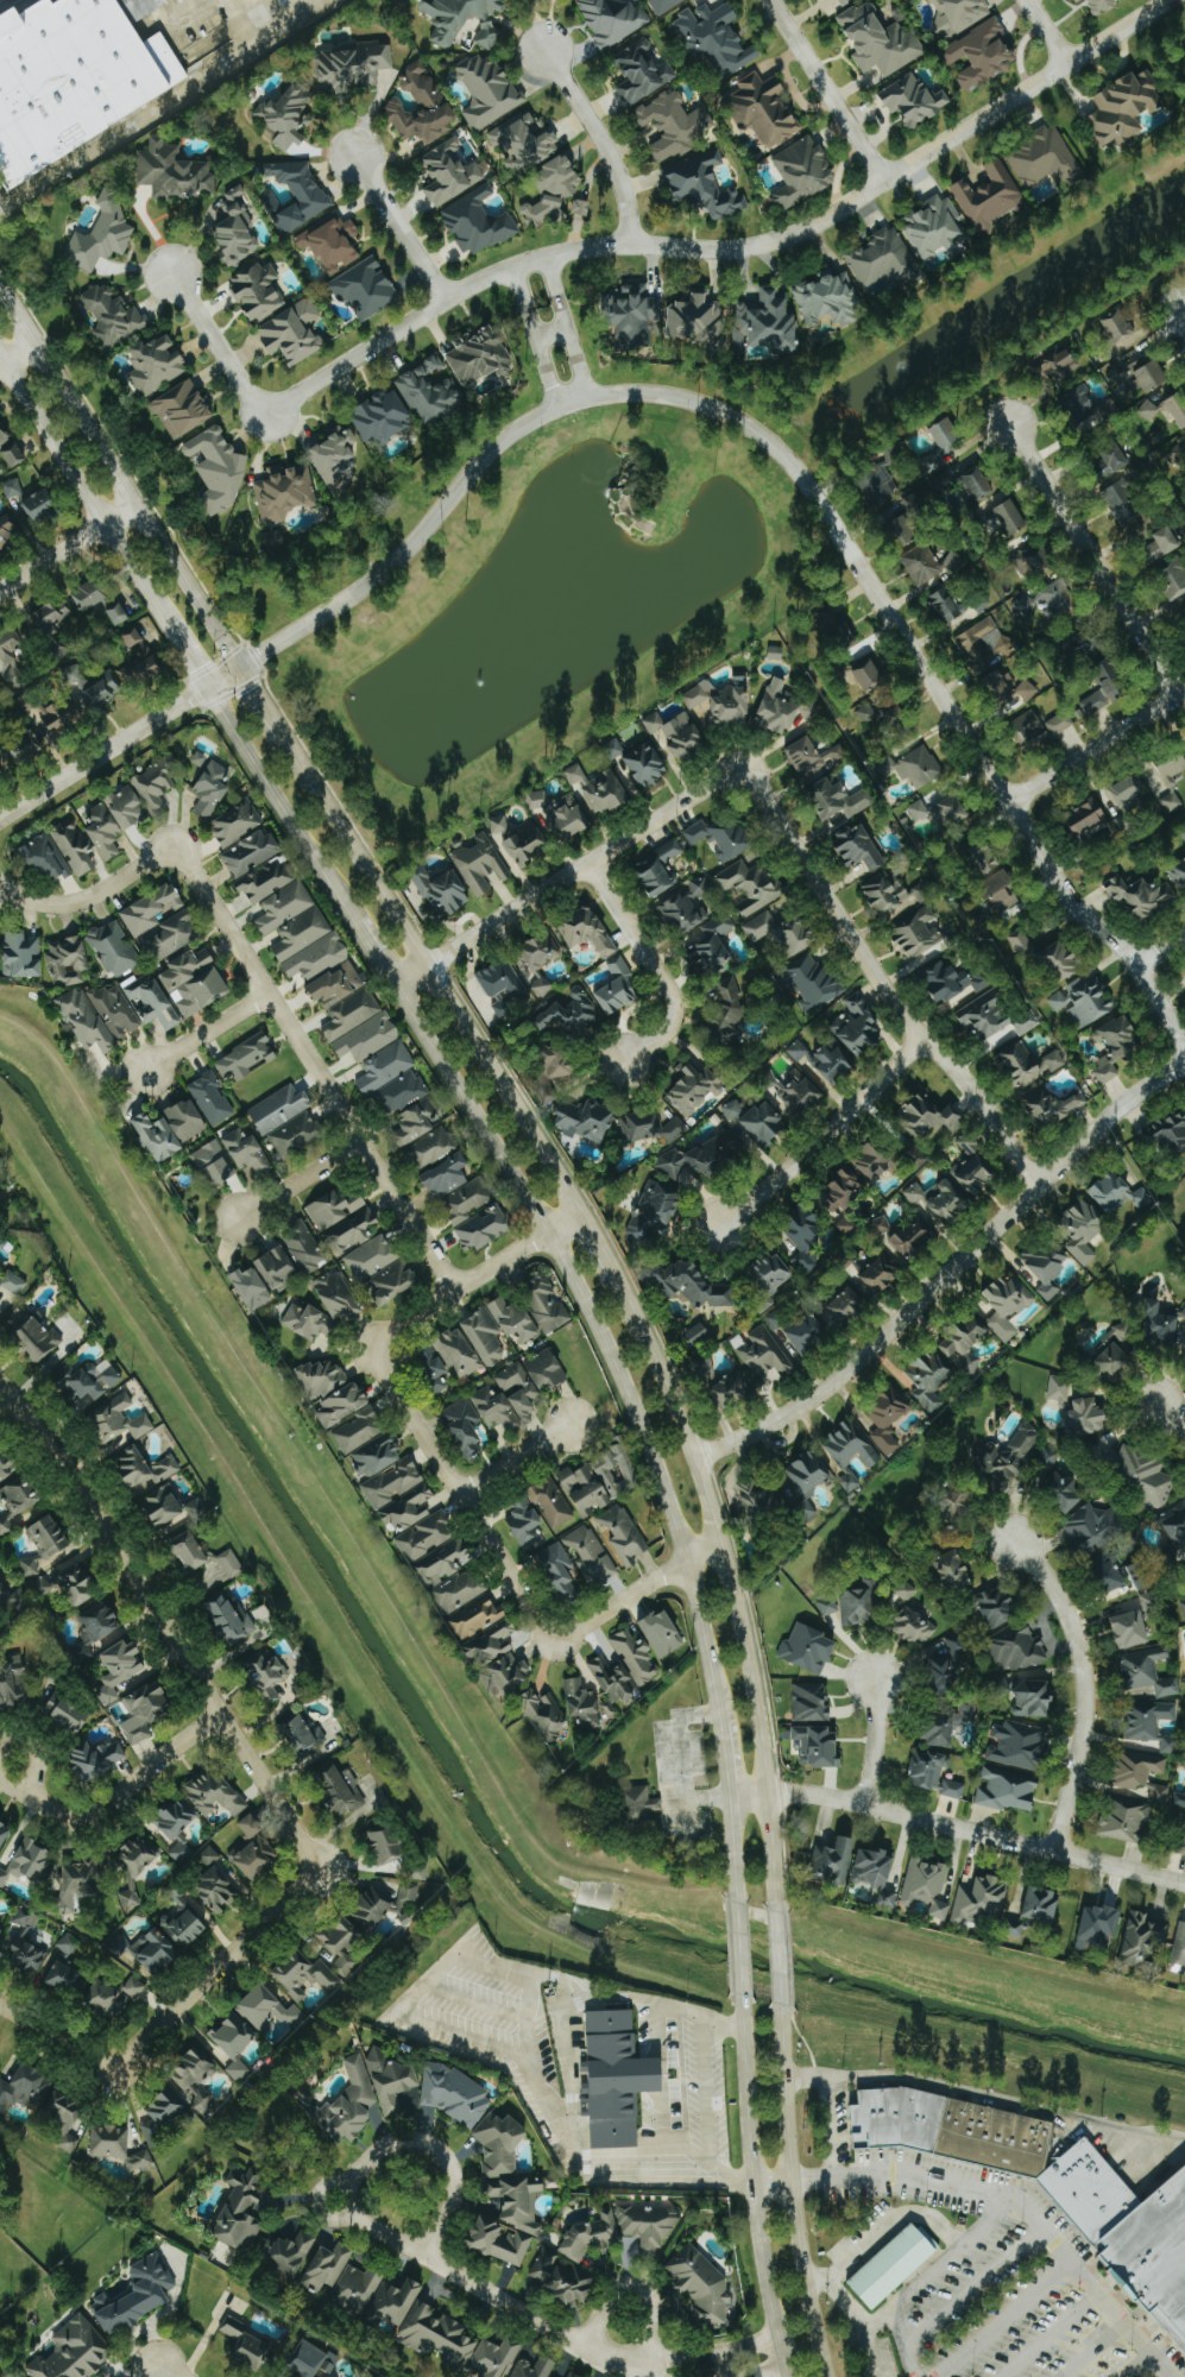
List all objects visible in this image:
building: (817, 0)
building: (1078, 0)
building: (844, 1)
building: (663, 5)
building: (1105, 5)
building: (959, 13)
building: (611, 19)
building: (464, 20)
road: (1053, 31)
building: (716, 38)
building: (881, 40)
building: (983, 53)
building: (106, 61)
building: (354, 67)
building: (641, 71)
building: (487, 90)
road: (828, 90)
building: (915, 100)
road: (162, 105)
building: (422, 106)
building: (1127, 107)
building: (763, 109)
building: (288, 116)
building: (674, 125)
building: (540, 128)
road: (597, 139)
building: (524, 141)
building: (1046, 158)
building: (171, 170)
building: (449, 172)
building: (803, 172)
building: (704, 185)
building: (554, 190)
building: (300, 194)
building: (991, 196)
building: (582, 207)
building: (478, 222)
building: (937, 226)
road: (403, 227)
building: (235, 229)
building: (102, 234)
building: (333, 244)
road: (730, 248)
building: (882, 261)
building: (366, 288)
building: (258, 291)
road: (556, 291)
building: (830, 300)
road: (523, 301)
building: (631, 314)
building: (113, 316)
road: (1183, 316)
building: (696, 319)
building: (767, 323)
building: (1120, 326)
building: (294, 333)
road: (550, 333)
road: (221, 345)
road: (18, 351)
building: (480, 357)
road: (576, 362)
building: (156, 365)
building: (1060, 365)
road: (546, 371)
building: (1153, 376)
building: (431, 392)
building: (1178, 408)
building: (182, 410)
building: (1083, 410)
building: (1148, 410)
building: (384, 417)
road: (505, 433)
building: (947, 434)
building: (8, 444)
building: (1177, 453)
building: (335, 455)
building: (1112, 459)
building: (218, 469)
road: (119, 474)
building: (878, 481)
building: (978, 483)
building: (12, 487)
road: (80, 488)
building: (285, 492)
building: (1123, 502)
building: (40, 505)
building: (1011, 517)
building: (8, 531)
building: (902, 532)
road: (68, 543)
building: (1165, 543)
road: (1092, 557)
building: (1035, 560)
building: (922, 567)
building: (1174, 576)
building: (89, 595)
building: (1059, 601)
building: (947, 605)
building: (118, 613)
building: (52, 617)
building: (840, 636)
building: (133, 637)
building: (984, 643)
building: (1085, 645)
road: (184, 652)
building: (12, 657)
traffic signals: (238, 666)
building: (141, 668)
building: (869, 675)
building: (1107, 686)
building: (94, 687)
traffic signals: (206, 687)
building: (1008, 687)
building: (700, 694)
road: (263, 704)
building: (733, 704)
building: (786, 708)
building: (63, 714)
building: (884, 717)
building: (1060, 723)
building: (1033, 729)
building: (676, 734)
road: (119, 742)
road: (1095, 745)
building: (614, 749)
building: (813, 755)
building: (200, 758)
building: (647, 765)
building: (920, 767)
building: (1172, 770)
road: (991, 778)
building: (156, 786)
building: (212, 789)
building: (600, 789)
building: (1128, 794)
building: (537, 800)
building: (840, 800)
building: (1172, 802)
road: (282, 806)
building: (128, 808)
building: (953, 809)
building: (919, 811)
building: (569, 818)
building: (1088, 818)
building: (238, 824)
building: (502, 830)
building: (1183, 831)
building: (106, 832)
building: (723, 838)
building: (529, 846)
building: (861, 847)
building: (76, 851)
building: (251, 853)
building: (48, 859)
building: (481, 865)
building: (658, 868)
road: (568, 875)
building: (1179, 876)
building: (994, 877)
building: (267, 881)
building: (751, 885)
building: (445, 894)
building: (895, 894)
building: (1142, 897)
building: (285, 907)
building: (687, 908)
building: (152, 909)
building: (588, 932)
building: (918, 932)
building: (302, 933)
building: (782, 933)
building: (171, 935)
building: (1021, 941)
building: (712, 947)
building: (115, 948)
road: (1161, 950)
building: (24, 956)
road: (376, 956)
building: (317, 958)
building: (69, 961)
building: (541, 961)
building: (1061, 963)
road: (655, 965)
road: (435, 975)
building: (503, 981)
building: (952, 982)
building: (196, 983)
road: (261, 983)
building: (817, 983)
road: (880, 983)
building: (338, 985)
building: (619, 989)
building: (152, 1001)
building: (1083, 1002)
building: (502, 1008)
building: (116, 1010)
building: (571, 1013)
building: (352, 1014)
building: (729, 1014)
building: (995, 1016)
building: (88, 1020)
building: (859, 1027)
road: (207, 1029)
building: (370, 1038)
building: (1120, 1039)
building: (798, 1049)
building: (246, 1059)
building: (1028, 1064)
building: (833, 1065)
building: (386, 1067)
building: (1105, 1071)
building: (694, 1087)
building: (402, 1092)
building: (803, 1096)
building: (212, 1099)
building: (1051, 1106)
building: (279, 1109)
building: (733, 1110)
building: (928, 1117)
building: (187, 1120)
building: (587, 1121)
building: (416, 1123)
building: (765, 1124)
building: (649, 1127)
road: (824, 1133)
building: (296, 1135)
building: (1168, 1136)
building: (159, 1139)
building: (970, 1145)
building: (430, 1149)
building: (247, 1152)
building: (701, 1160)
building: (214, 1164)
building: (876, 1164)
building: (975, 1175)
building: (448, 1177)
road: (301, 1179)
building: (843, 1192)
building: (1118, 1193)
building: (468, 1200)
building: (941, 1200)
building: (653, 1217)
building: (846, 1225)
building: (881, 1225)
building: (485, 1228)
building: (1084, 1230)
building: (353, 1234)
building: (806, 1238)
building: (915, 1240)
road: (599, 1243)
building: (304, 1248)
building: (1046, 1267)
building: (279, 1269)
building: (774, 1272)
road: (947, 1272)
building: (882, 1275)
road: (473, 1276)
building: (14, 1282)
building: (395, 1282)
building: (694, 1286)
building: (252, 1288)
building: (338, 1297)
building: (546, 1303)
building: (1008, 1306)
building: (845, 1309)
building: (1184, 1316)
building: (515, 1320)
building: (309, 1323)
building: (1160, 1326)
building: (698, 1333)
building: (808, 1336)
building: (37, 1338)
building: (486, 1338)
road: (603, 1338)
building: (967, 1345)
building: (459, 1354)
building: (1120, 1354)
building: (434, 1370)
building: (547, 1372)
building: (322, 1377)
building: (932, 1381)
building: (88, 1382)
building: (732, 1391)
building: (1063, 1391)
building: (509, 1399)
building: (343, 1405)
building: (1086, 1418)
road: (1171, 1419)
building: (118, 1420)
building: (889, 1421)
building: (464, 1427)
building: (360, 1430)
building: (850, 1445)
building: (1010, 1454)
road: (515, 1458)
building: (6, 1463)
building: (145, 1469)
building: (1141, 1469)
building: (808, 1477)
building: (850, 1482)
building: (395, 1483)
building: (591, 1486)
building: (1064, 1492)
road: (459, 1495)
building: (757, 1496)
building: (19, 1499)
building: (960, 1501)
building: (551, 1502)
building: (166, 1508)
building: (410, 1509)
building: (1177, 1522)
building: (527, 1524)
building: (1095, 1527)
building: (625, 1534)
building: (428, 1536)
building: (191, 1551)
building: (591, 1553)
building: (38, 1558)
building: (231, 1563)
building: (560, 1569)
building: (954, 1569)
building: (1110, 1571)
building: (454, 1575)
building: (1141, 1575)
road: (732, 1580)
road: (636, 1590)
building: (8, 1593)
building: (1151, 1601)
building: (861, 1602)
building: (832, 1606)
building: (1183, 1606)
building: (1000, 1607)
building: (912, 1616)
building: (478, 1618)
building: (232, 1619)
building: (99, 1622)
building: (1132, 1628)
building: (663, 1633)
building: (492, 1646)
building: (811, 1647)
building: (1017, 1648)
building: (637, 1657)
building: (946, 1665)
building: (121, 1669)
building: (1151, 1671)
building: (269, 1675)
building: (508, 1675)
building: (614, 1681)
building: (14, 1682)
road: (1083, 1686)
building: (1035, 1698)
building: (811, 1702)
building: (69, 1710)
building: (146, 1710)
building: (547, 1714)
building: (1149, 1719)
building: (947, 1725)
building: (303, 1734)
road: (874, 1741)
building: (819, 1745)
building: (1019, 1745)
building: (1168, 1745)
road: (250, 1749)
building: (97, 1758)
road: (725, 1763)
building: (1139, 1768)
building: (933, 1772)
building: (343, 1790)
building: (1009, 1790)
building: (215, 1793)
road: (122, 1799)
building: (1179, 1799)
building: (643, 1803)
building: (177, 1820)
building: (1127, 1820)
building: (252, 1826)
road: (958, 1827)
building: (4, 1834)
building: (1183, 1840)
building: (387, 1843)
road: (731, 1846)
building: (181, 1852)
building: (209, 1855)
building: (256, 1856)
building: (836, 1860)
building: (29, 1861)
building: (878, 1872)
building: (80, 1879)
building: (928, 1886)
building: (219, 1889)
building: (981, 1899)
building: (1042, 1904)
building: (386, 1906)
building: (184, 1919)
building: (1098, 1928)
building: (1, 1931)
building: (1141, 1940)
building: (341, 1943)
building: (69, 1944)
building: (1179, 1950)
building: (156, 1952)
road: (738, 1953)
road: (780, 1955)
building: (305, 1975)
building: (63, 1976)
building: (114, 1994)
building: (269, 2009)
road: (49, 2025)
building: (237, 2043)
road: (571, 2072)
building: (617, 2079)
building: (392, 2080)
road: (924, 2083)
building: (24, 2087)
building: (455, 2094)
road: (705, 2094)
building: (179, 2098)
building: (349, 2105)
building: (64, 2118)
road: (830, 2126)
road: (1121, 2127)
building: (948, 2129)
building: (118, 2145)
road: (428, 2148)
building: (1085, 2190)
building: (506, 2193)
road: (752, 2193)
road: (795, 2195)
road: (1021, 2202)
building: (241, 2212)
road: (884, 2228)
building: (622, 2230)
building: (292, 2253)
building: (1155, 2262)
building: (890, 2264)
building: (328, 2269)
road: (929, 2275)
building: (562, 2278)
road: (636, 2282)
building: (701, 2285)
road: (973, 2287)
building: (358, 2288)
road: (487, 2293)
building: (138, 2296)
building: (396, 2302)
road: (1006, 2319)
road: (884, 2320)
road: (866, 2321)
road: (1052, 2334)
building: (456, 2343)
building: (246, 2344)
road: (1092, 2348)
building: (75, 2352)
road: (713, 2353)
building: (314, 2360)
road: (1141, 2365)
building: (535, 2367)
road: (158, 2373)
road: (169, 2373)
building: (573, 2375)
road: (648, 2375)
road: (653, 2375)
road: (773, 2375)

